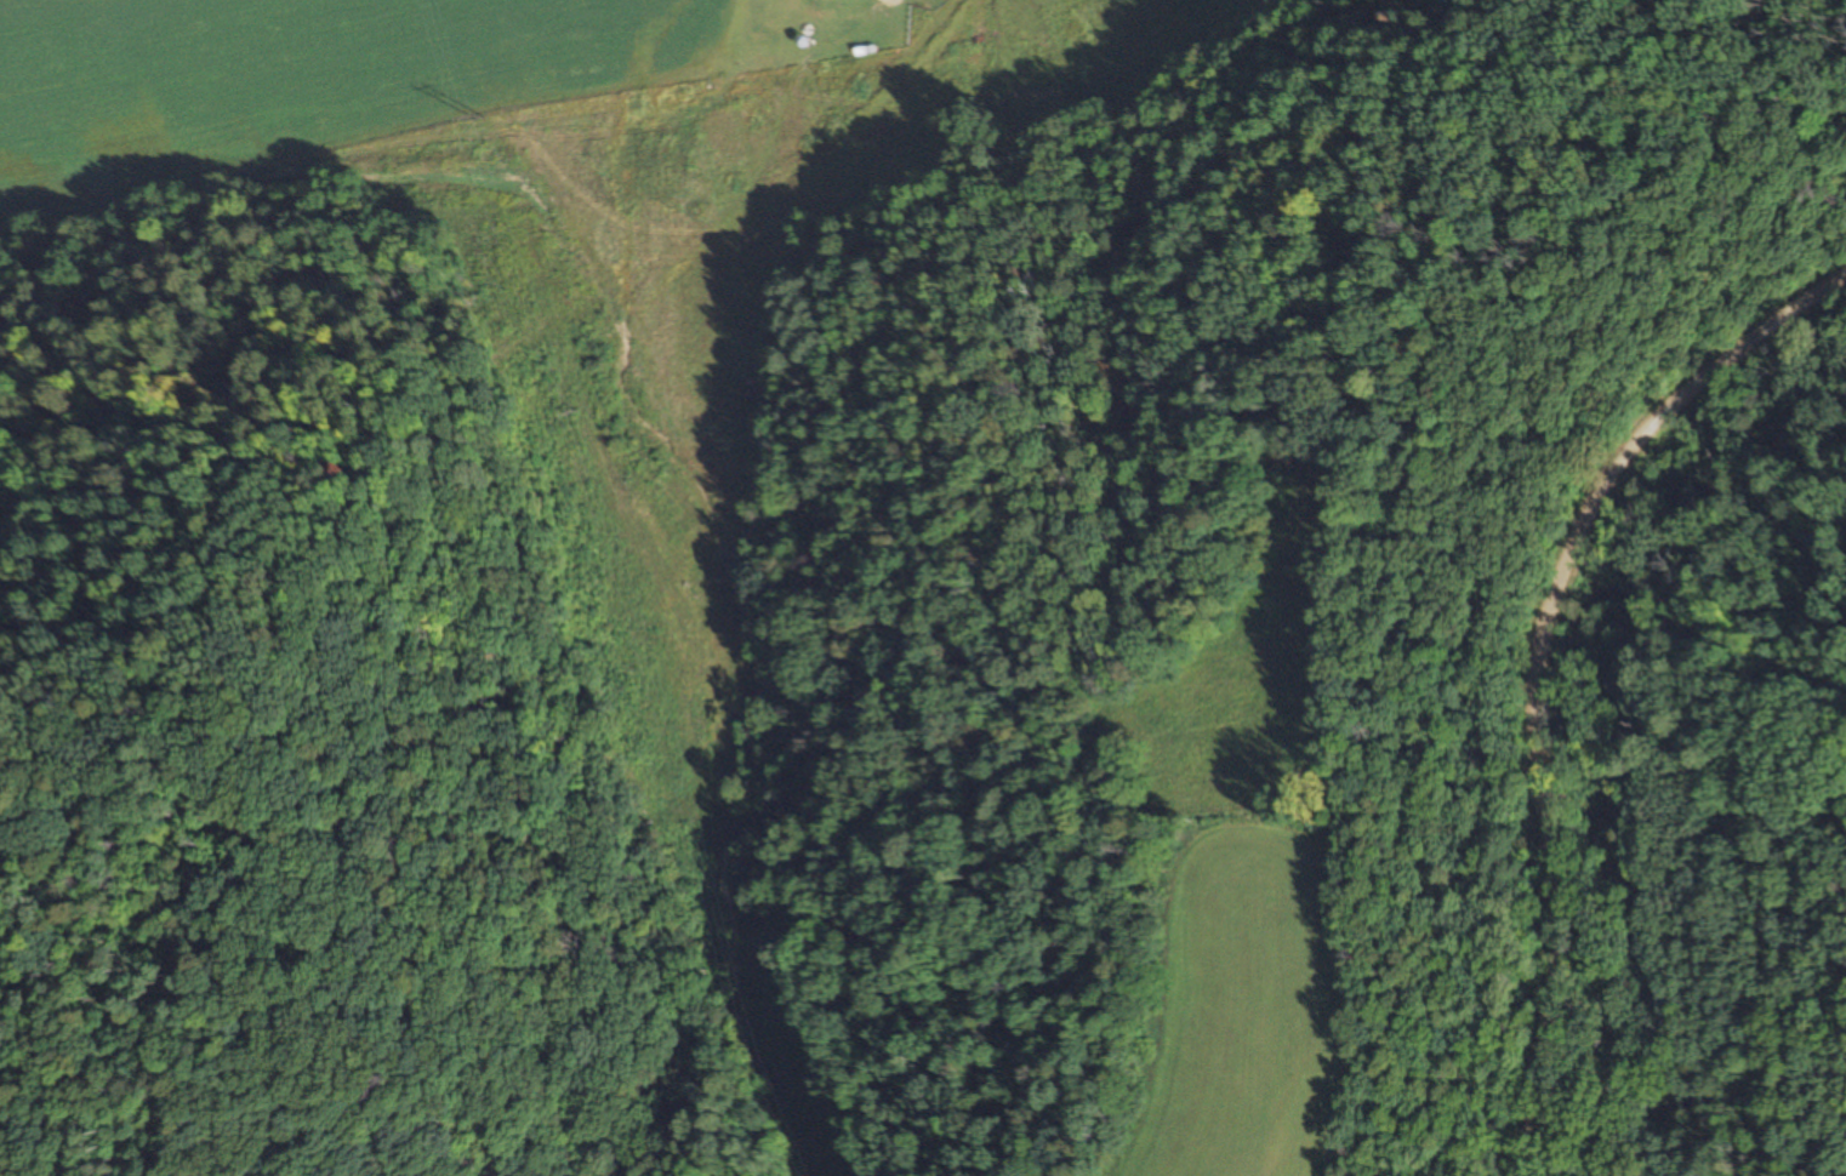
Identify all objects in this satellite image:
power tower: (484, 118)
crop: (530, 148)
power tower: (575, 411)
road: (1529, 680)

